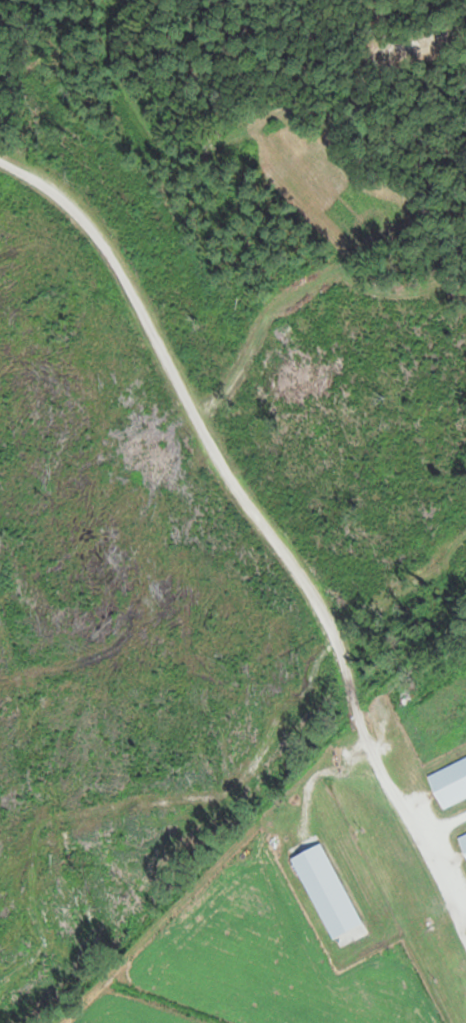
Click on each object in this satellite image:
building: (448, 774)
building: (462, 839)
building: (326, 891)

